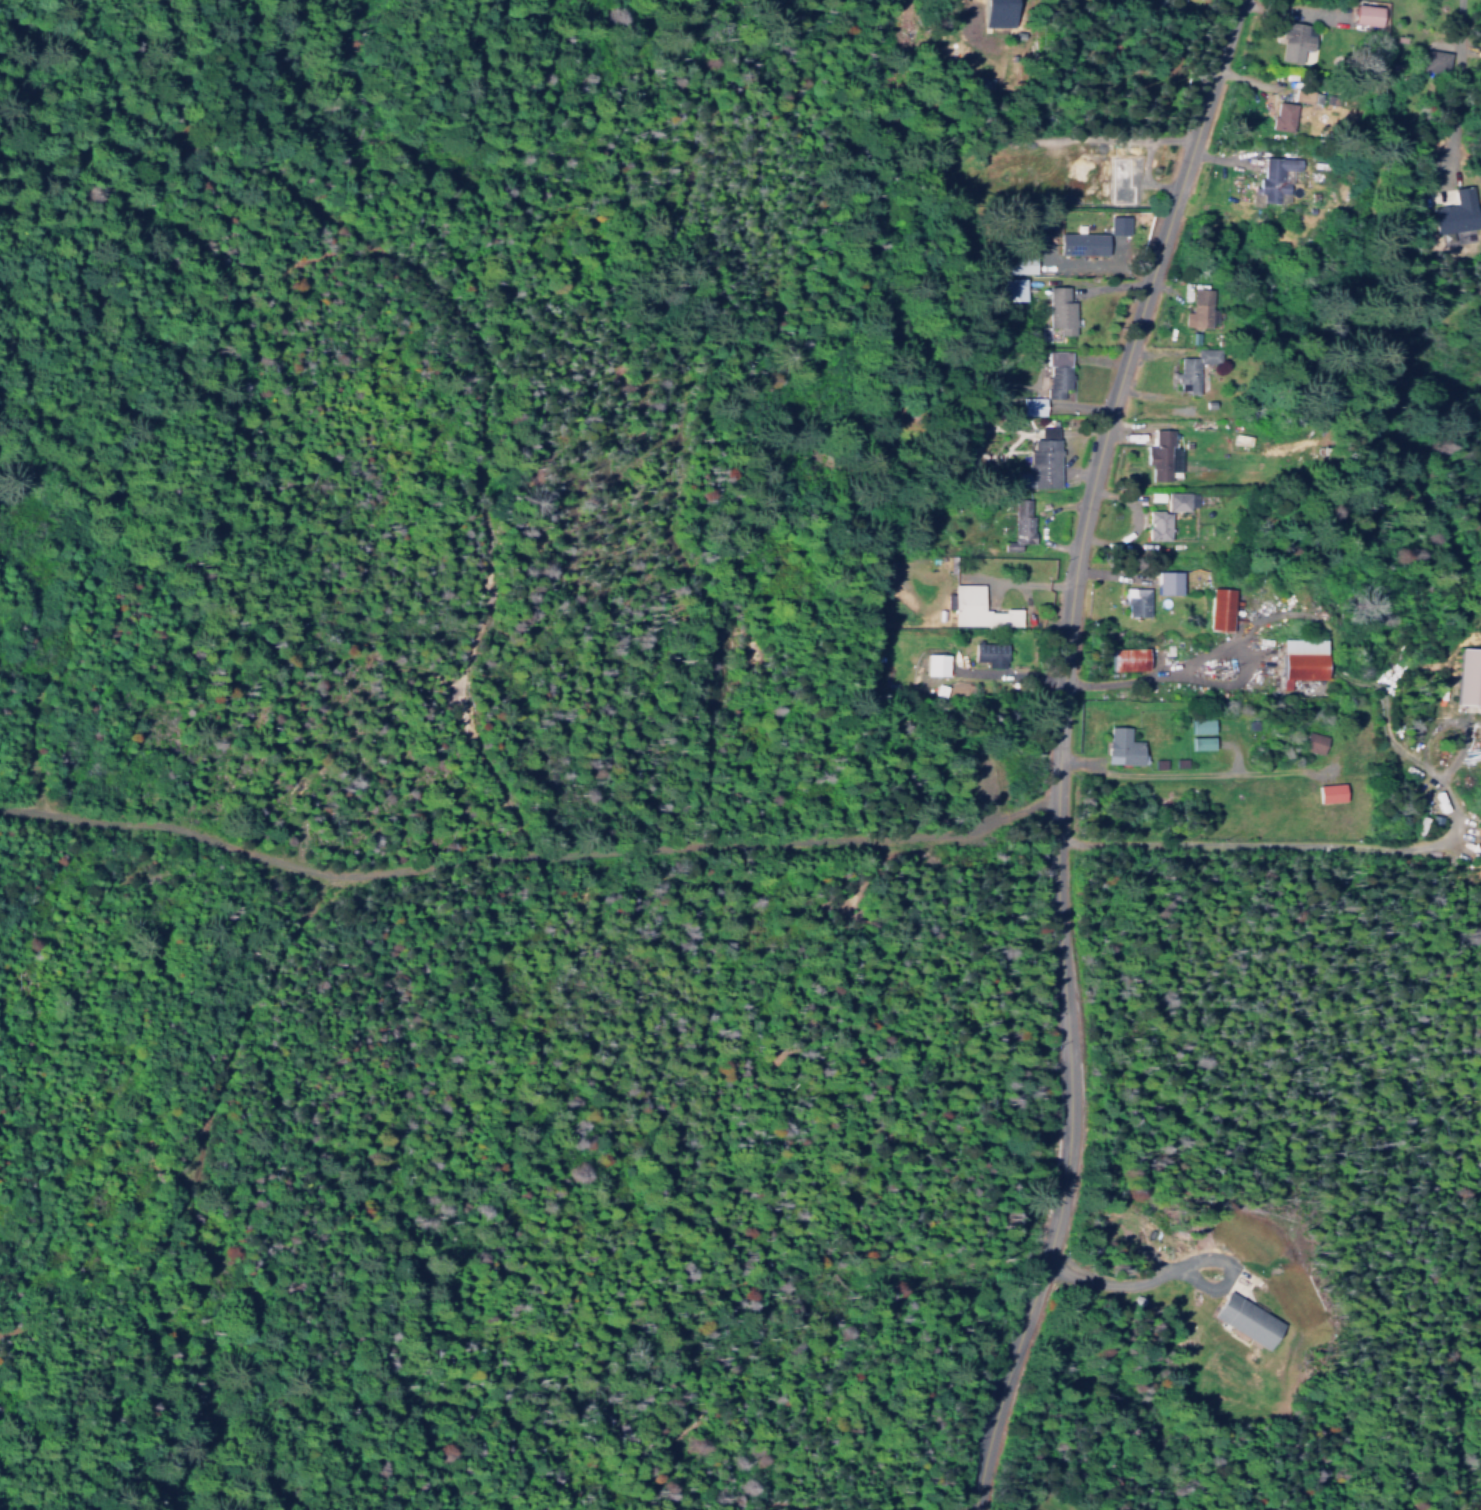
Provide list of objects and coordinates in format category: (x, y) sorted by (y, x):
building: (1001, 13)
building: (1360, 15)
road: (1458, 21)
building: (1290, 41)
building: (1284, 116)
building: (1277, 178)
building: (1459, 212)
building: (1118, 226)
building: (1085, 243)
building: (1018, 288)
building: (1201, 308)
building: (1061, 310)
building: (1194, 367)
building: (1057, 373)
building: (1033, 406)
building: (1162, 454)
building: (1045, 457)
building: (1168, 514)
building: (1021, 523)
building: (1170, 582)
building: (1137, 602)
building: (978, 608)
building: (1222, 608)
building: (983, 651)
building: (1131, 659)
building: (1304, 661)
building: (937, 664)
building: (1463, 675)
building: (1203, 726)
building: (1315, 742)
building: (1204, 743)
building: (1124, 747)
road: (1045, 749)
building: (1331, 792)
road: (517, 854)
building: (1249, 1320)

